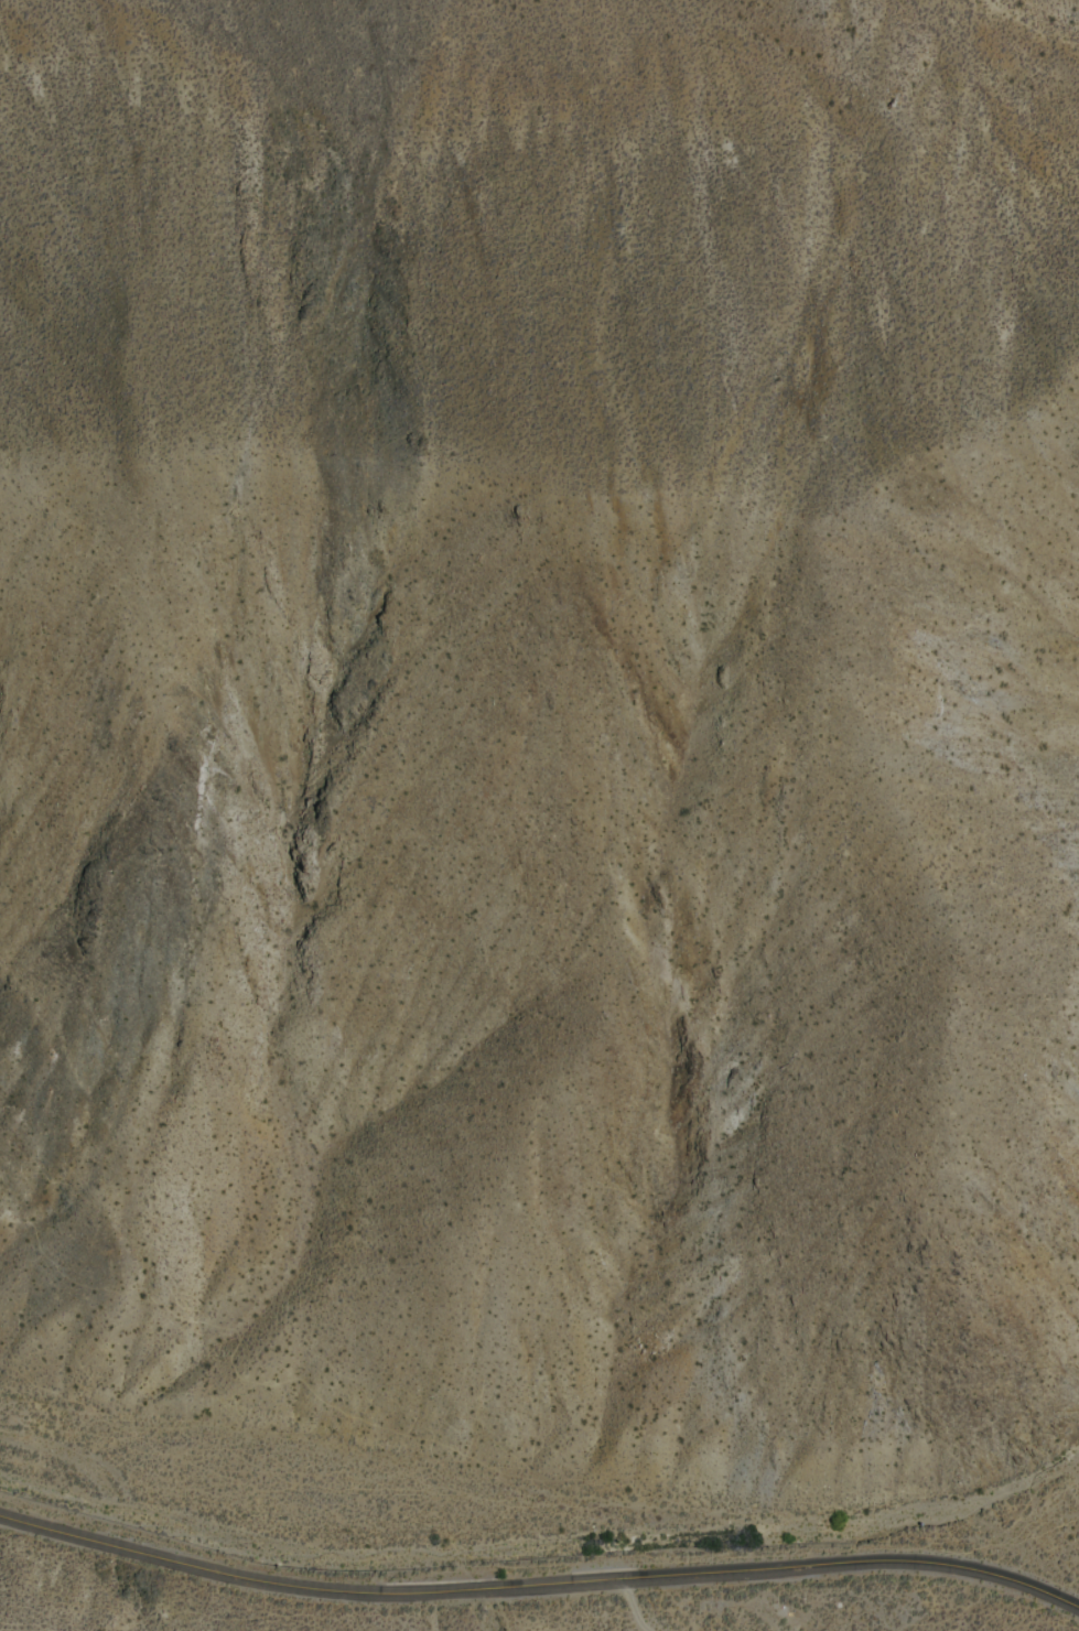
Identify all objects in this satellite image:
road: (949, 1506)
road: (538, 1586)
road: (633, 1606)

